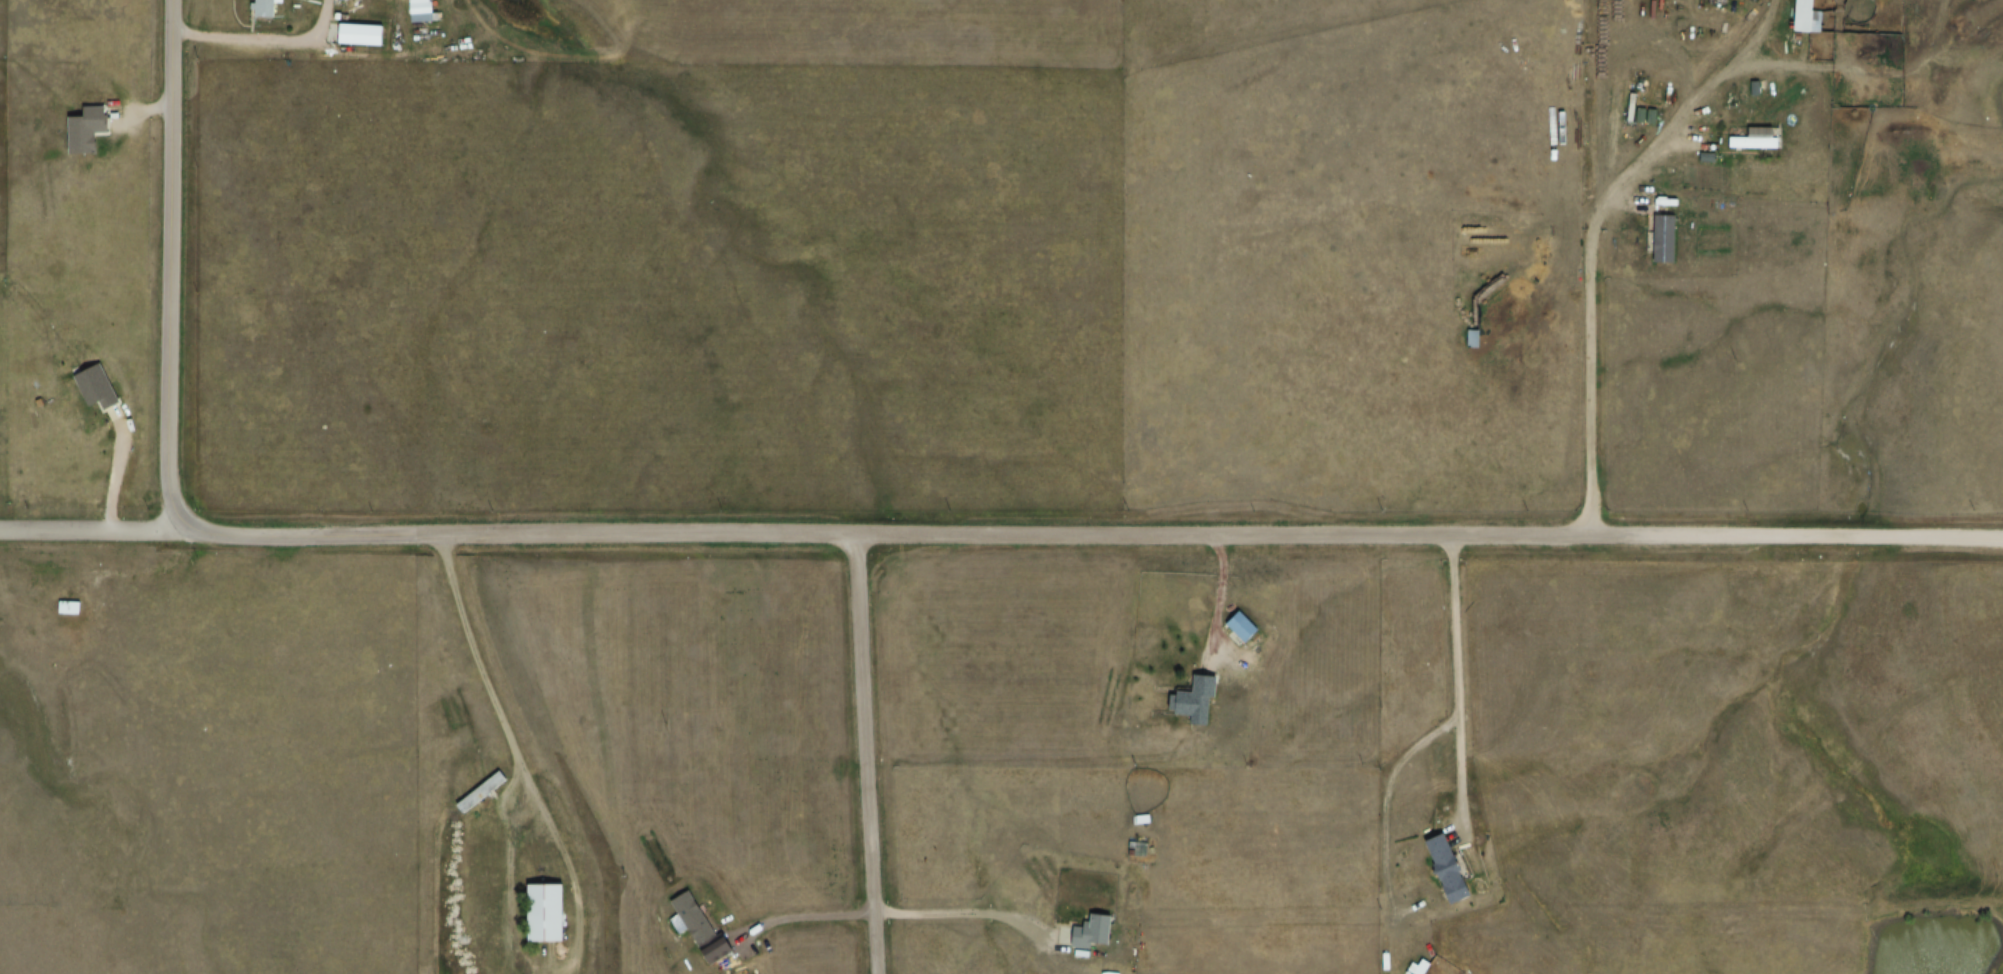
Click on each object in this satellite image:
building: (265, 12)
building: (419, 15)
building: (1805, 20)
building: (361, 41)
building: (1590, 133)
building: (87, 137)
building: (1755, 146)
building: (1472, 346)
building: (95, 395)
road: (82, 531)
road: (817, 537)
building: (68, 615)
building: (1197, 708)
road: (862, 756)
building: (480, 799)
building: (1448, 876)
building: (546, 921)
building: (693, 927)
building: (1092, 940)

